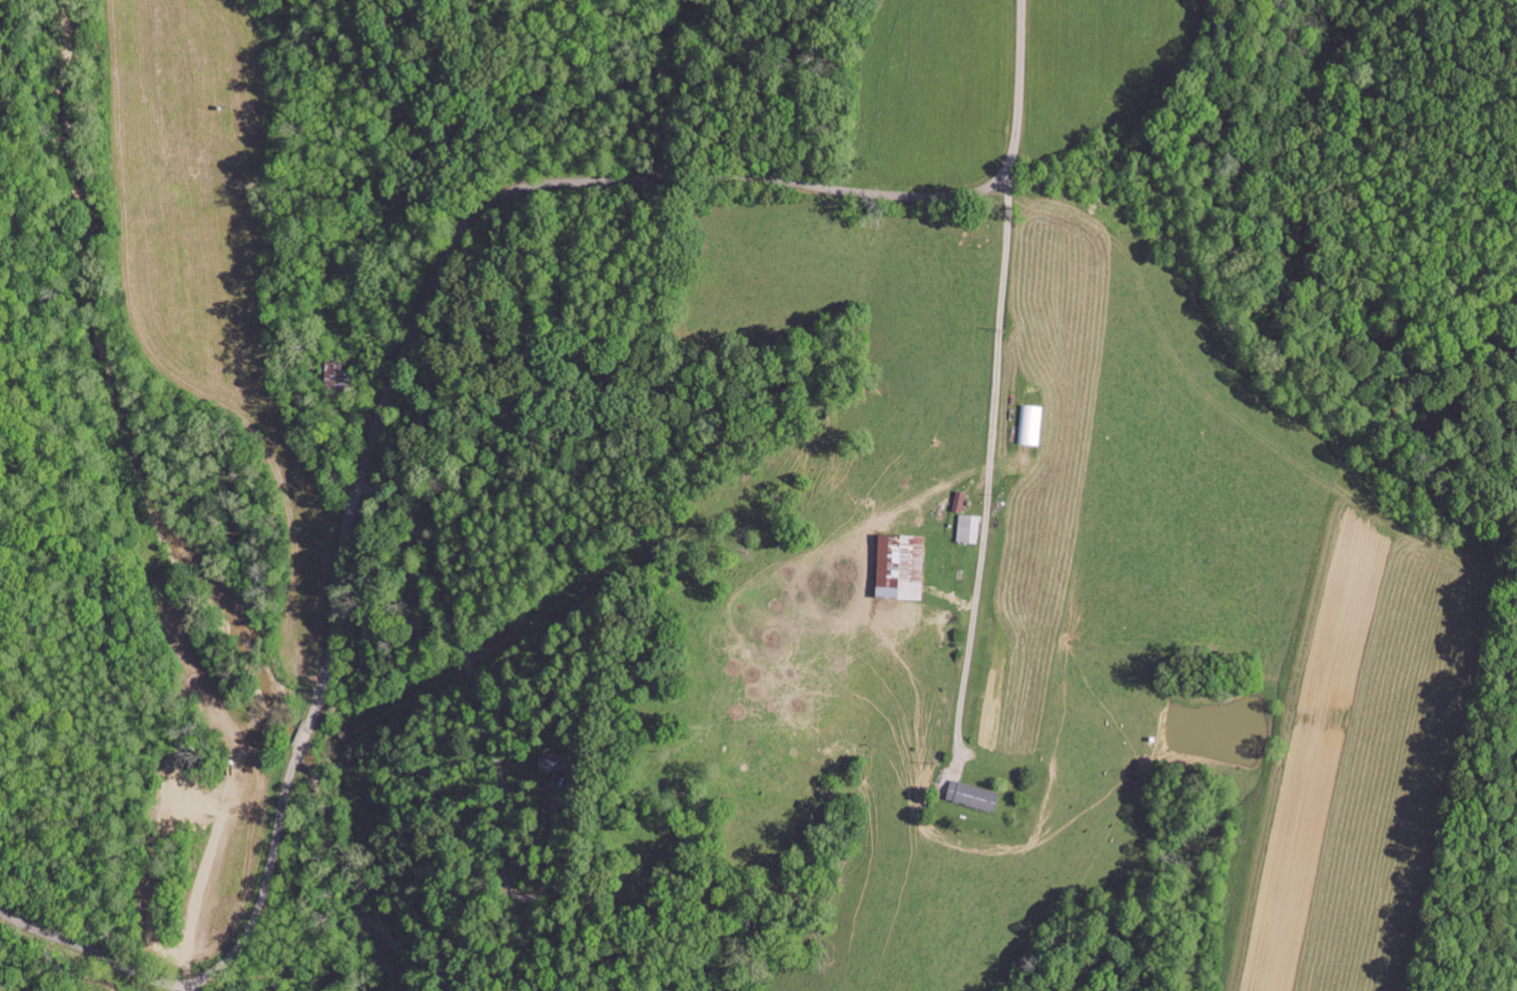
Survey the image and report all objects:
road: (440, 264)
road: (610, 329)
building: (1029, 424)
road: (964, 449)
building: (967, 528)
building: (903, 567)
road: (560, 619)
building: (557, 762)
building: (975, 796)
road: (93, 951)
road: (188, 988)

